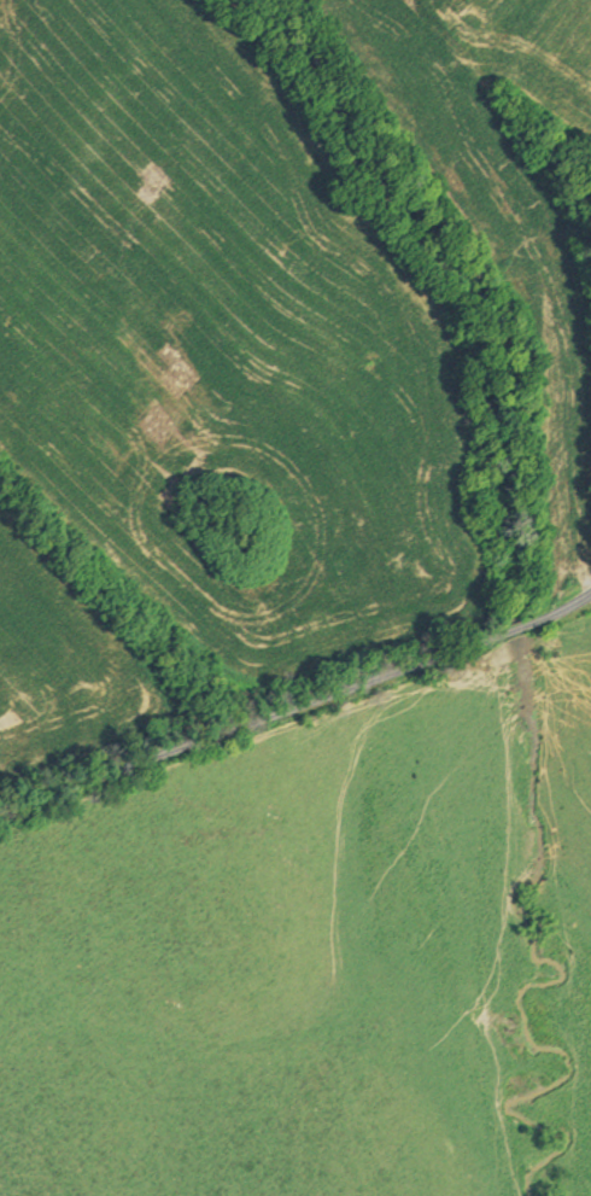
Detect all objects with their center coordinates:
road: (297, 695)

